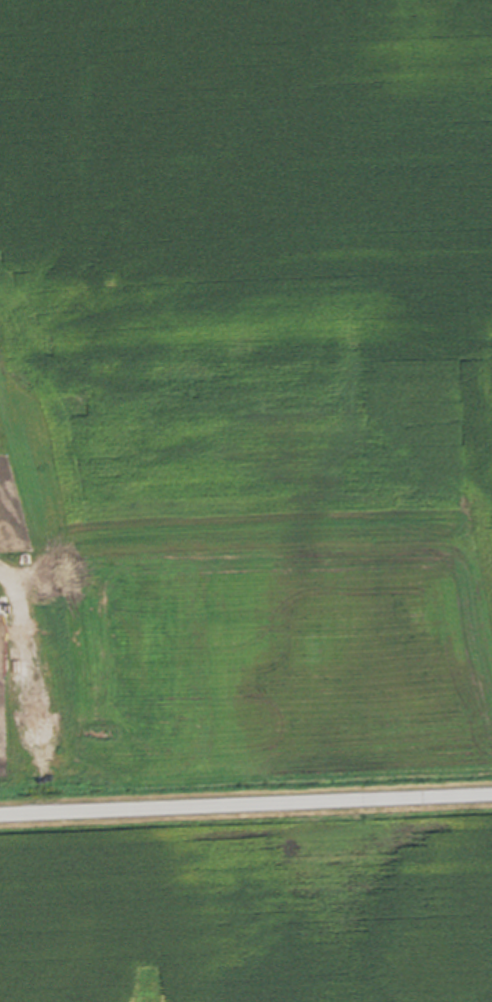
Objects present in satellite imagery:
road: (246, 804)

